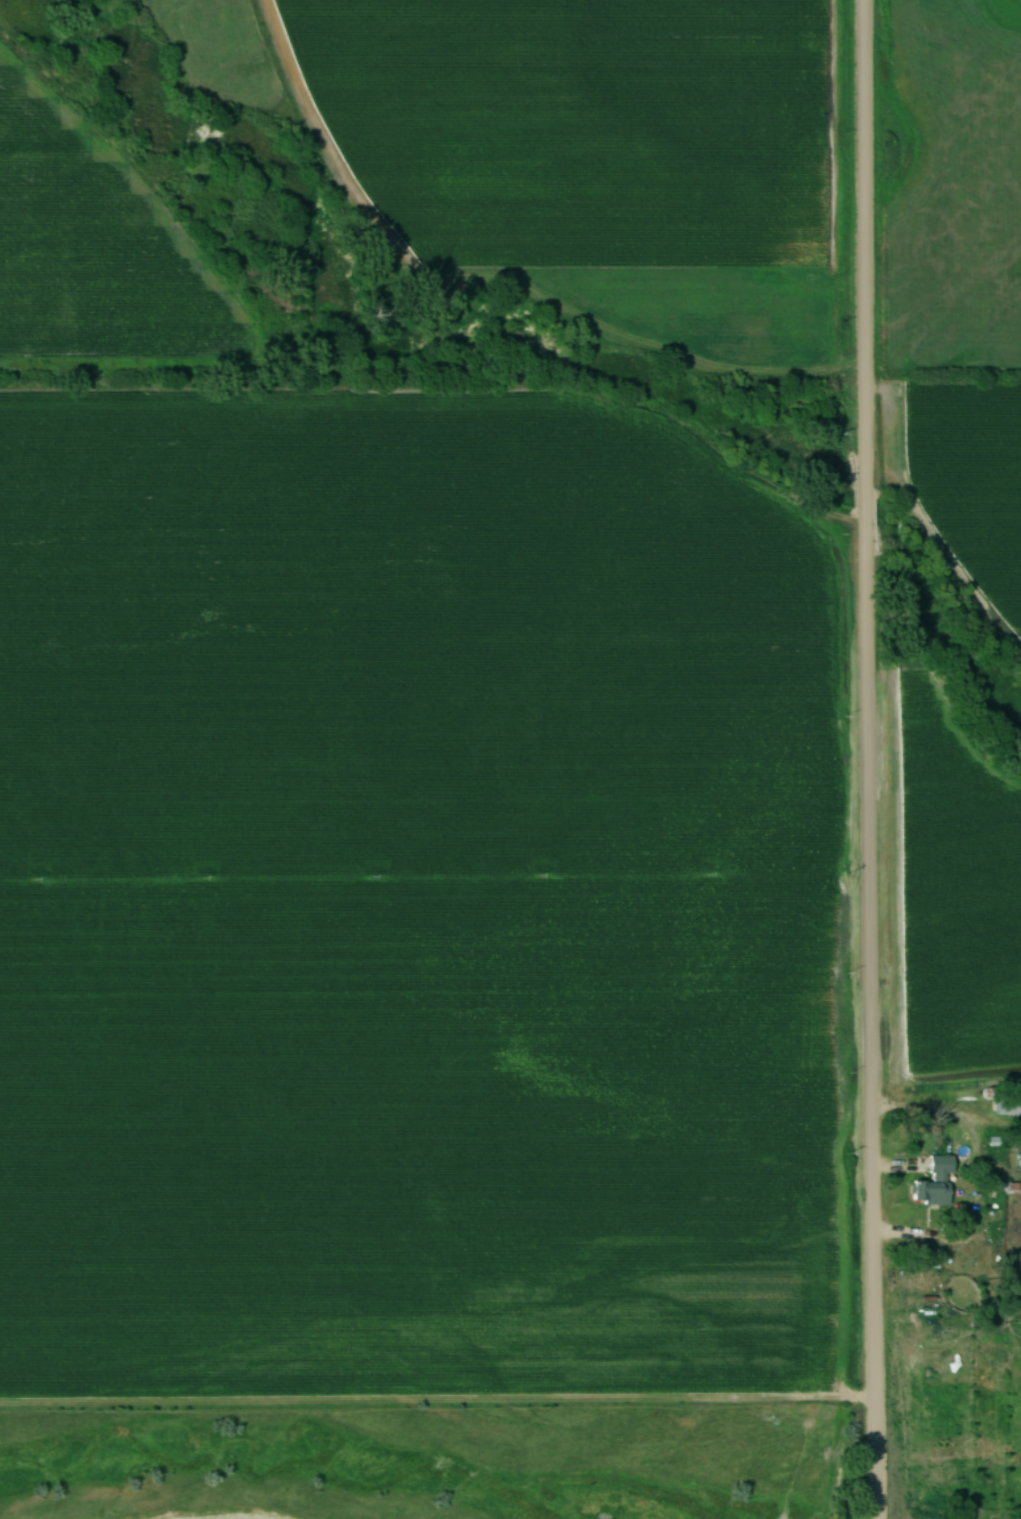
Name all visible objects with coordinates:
road: (859, 759)
building: (1007, 1107)
building: (933, 1184)
building: (1011, 1189)
road: (926, 1237)

